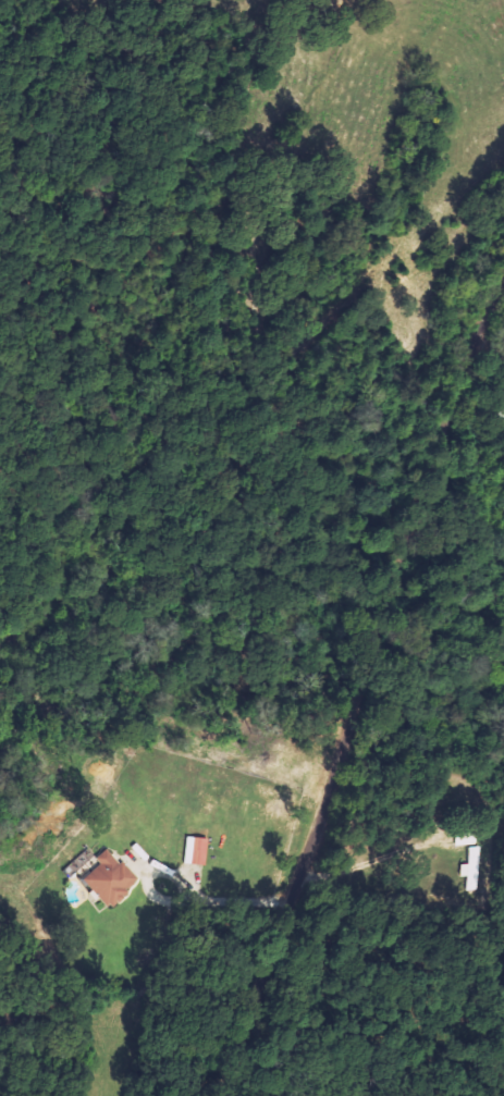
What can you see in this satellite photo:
road: (372, 682)
building: (469, 839)
building: (479, 867)
building: (113, 878)

